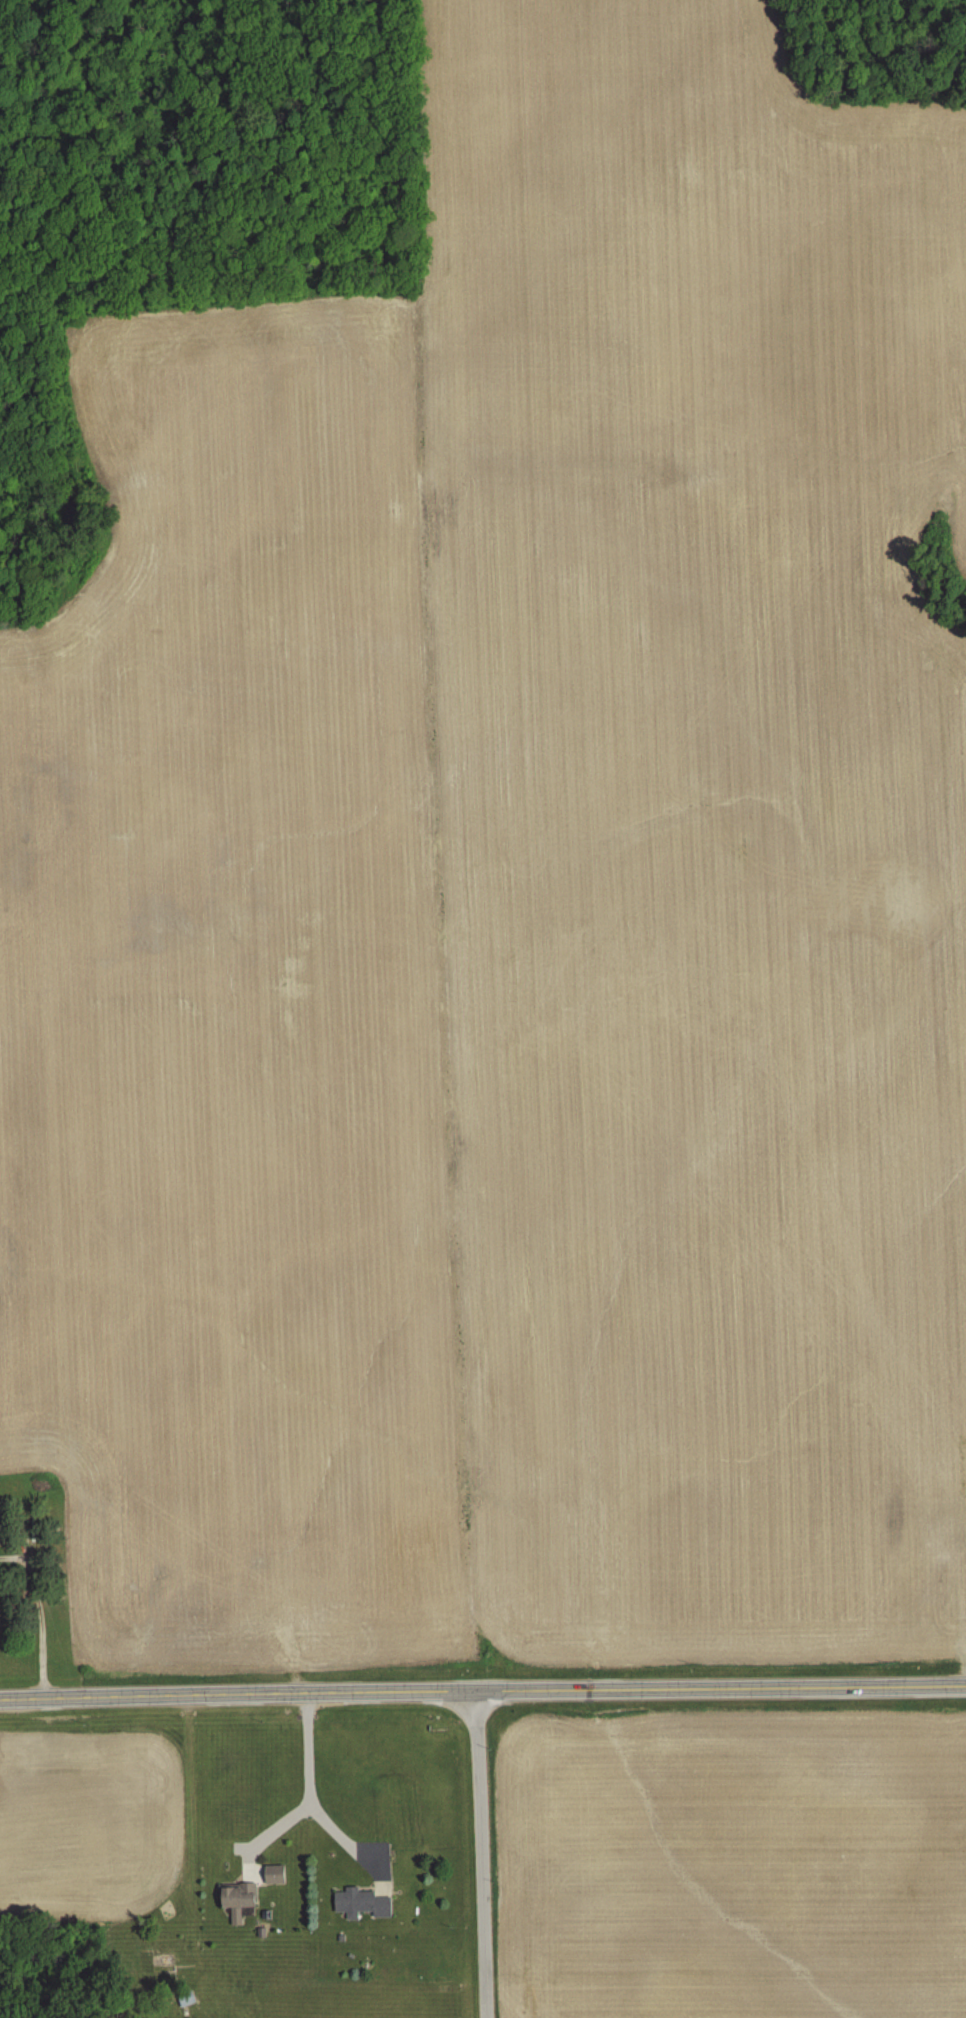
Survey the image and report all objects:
road: (44, 1615)
road: (482, 1691)
road: (308, 1801)
road: (272, 1836)
road: (488, 1854)
building: (272, 1873)
building: (237, 1899)
building: (360, 1903)

